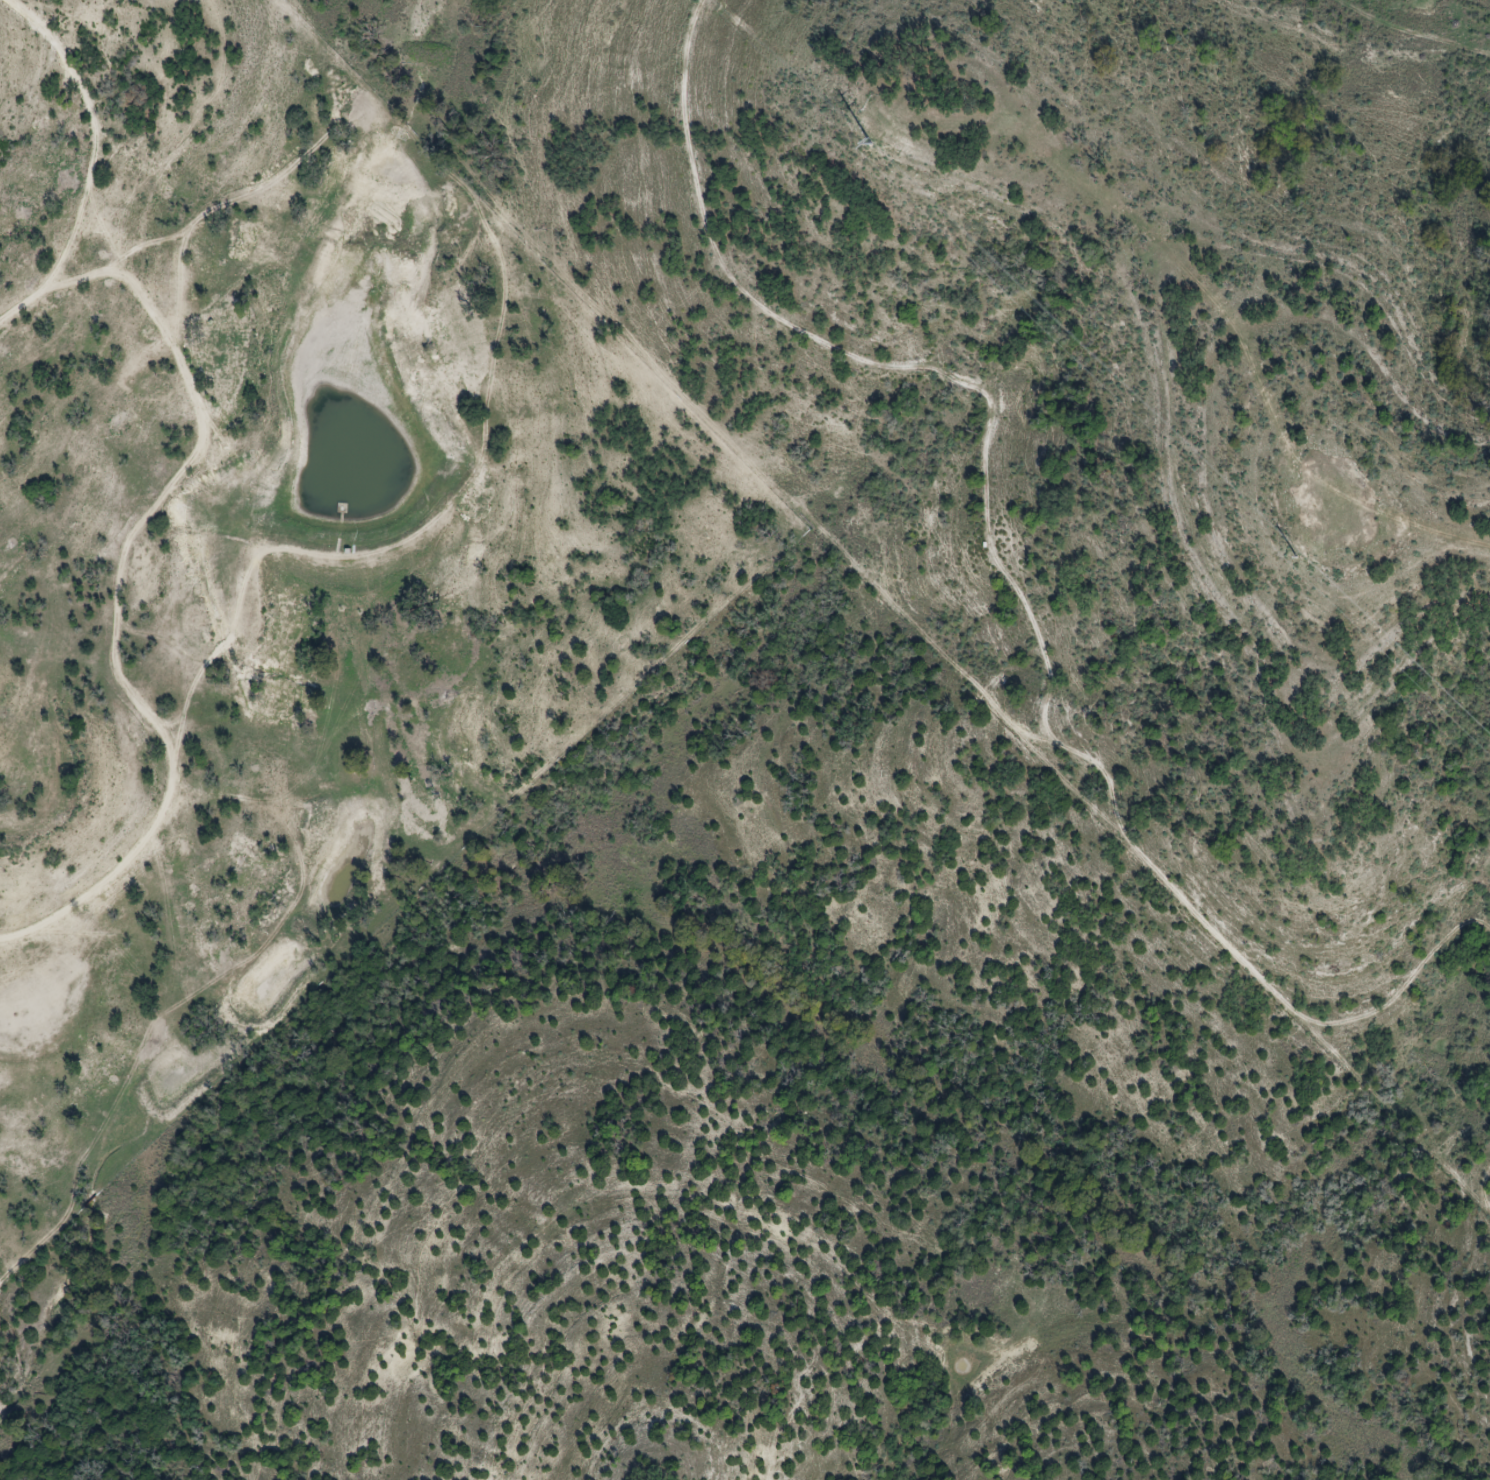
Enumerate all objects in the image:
power tower: (868, 143)
power tower: (1295, 555)
road: (136, 565)

